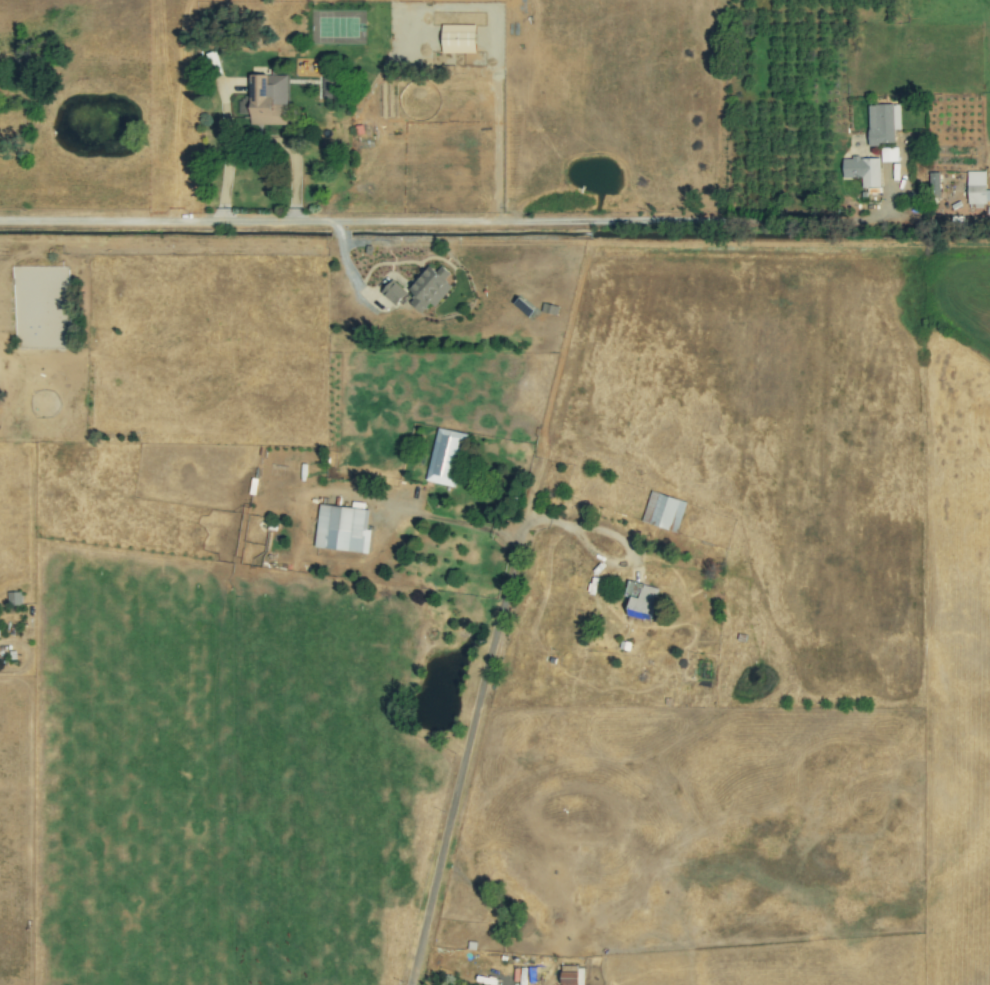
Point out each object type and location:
building: (329, 94)
building: (268, 100)
building: (883, 123)
road: (292, 154)
building: (888, 154)
road: (229, 158)
building: (863, 170)
building: (933, 185)
building: (976, 189)
road: (453, 221)
building: (429, 288)
building: (394, 292)
building: (445, 457)
building: (663, 511)
road: (457, 522)
building: (342, 528)
road: (601, 552)
building: (14, 598)
building: (640, 601)
road: (469, 752)
building: (572, 975)

